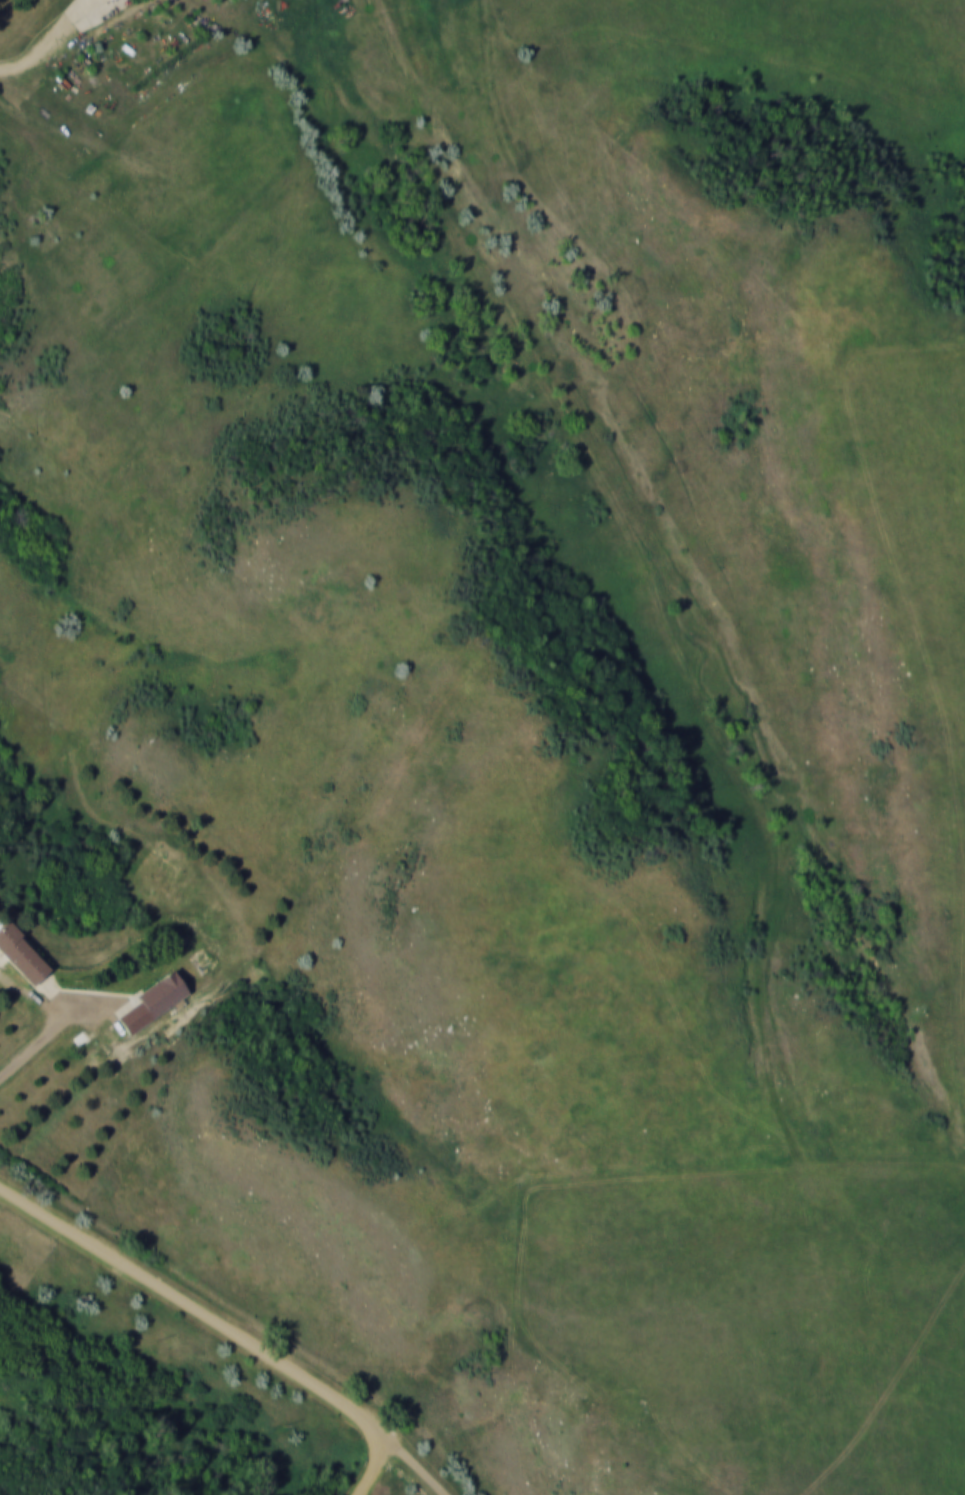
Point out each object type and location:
road: (203, 2)
road: (78, 36)
road: (614, 511)
building: (22, 954)
building: (163, 994)
road: (45, 1035)
road: (192, 1304)
road: (415, 1460)
road: (376, 1464)

